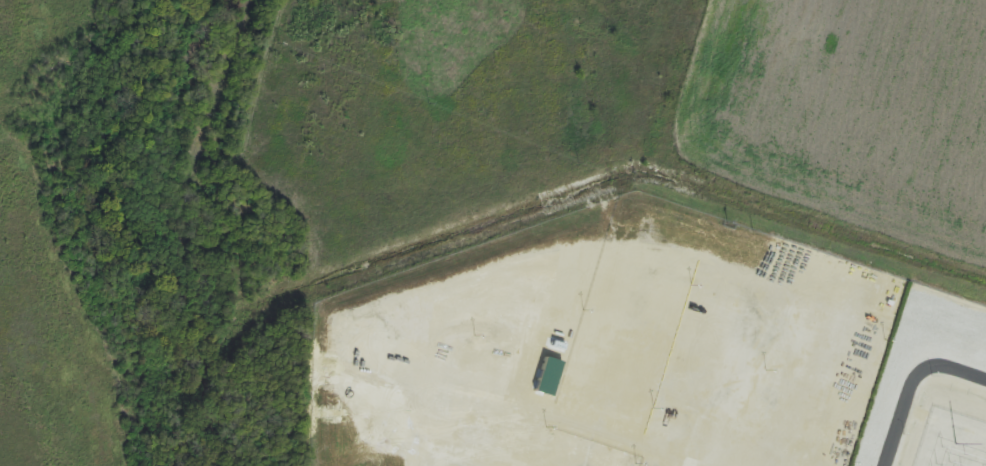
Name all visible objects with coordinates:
power plant: (658, 347)
power substation: (951, 439)

